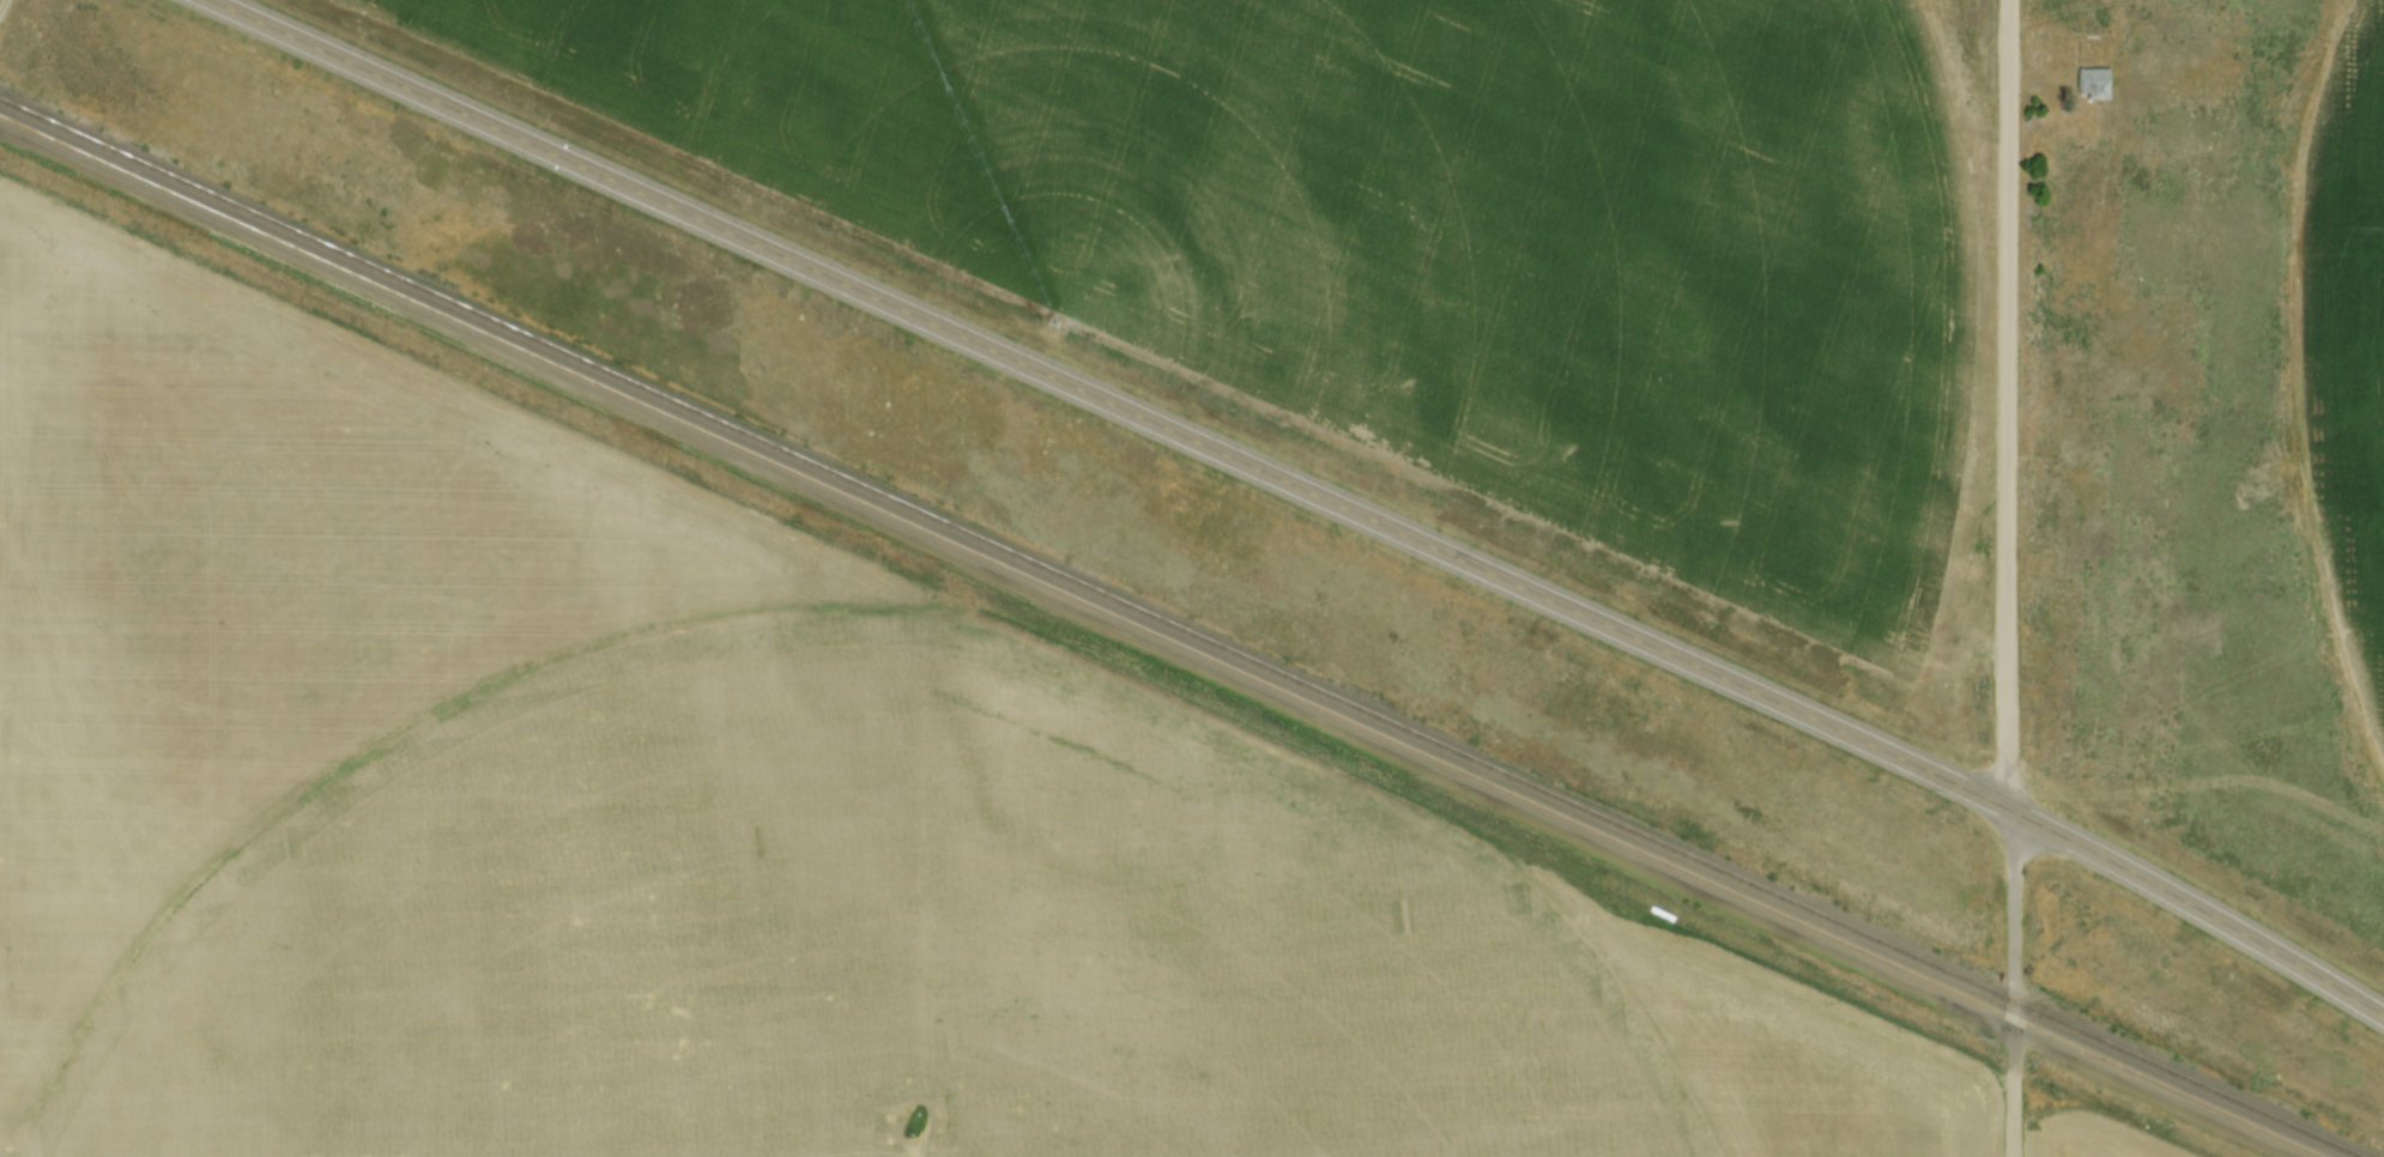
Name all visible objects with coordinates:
building: (2088, 83)
road: (1303, 492)
road: (1998, 578)
railway: (1179, 629)
railway: (1158, 637)

